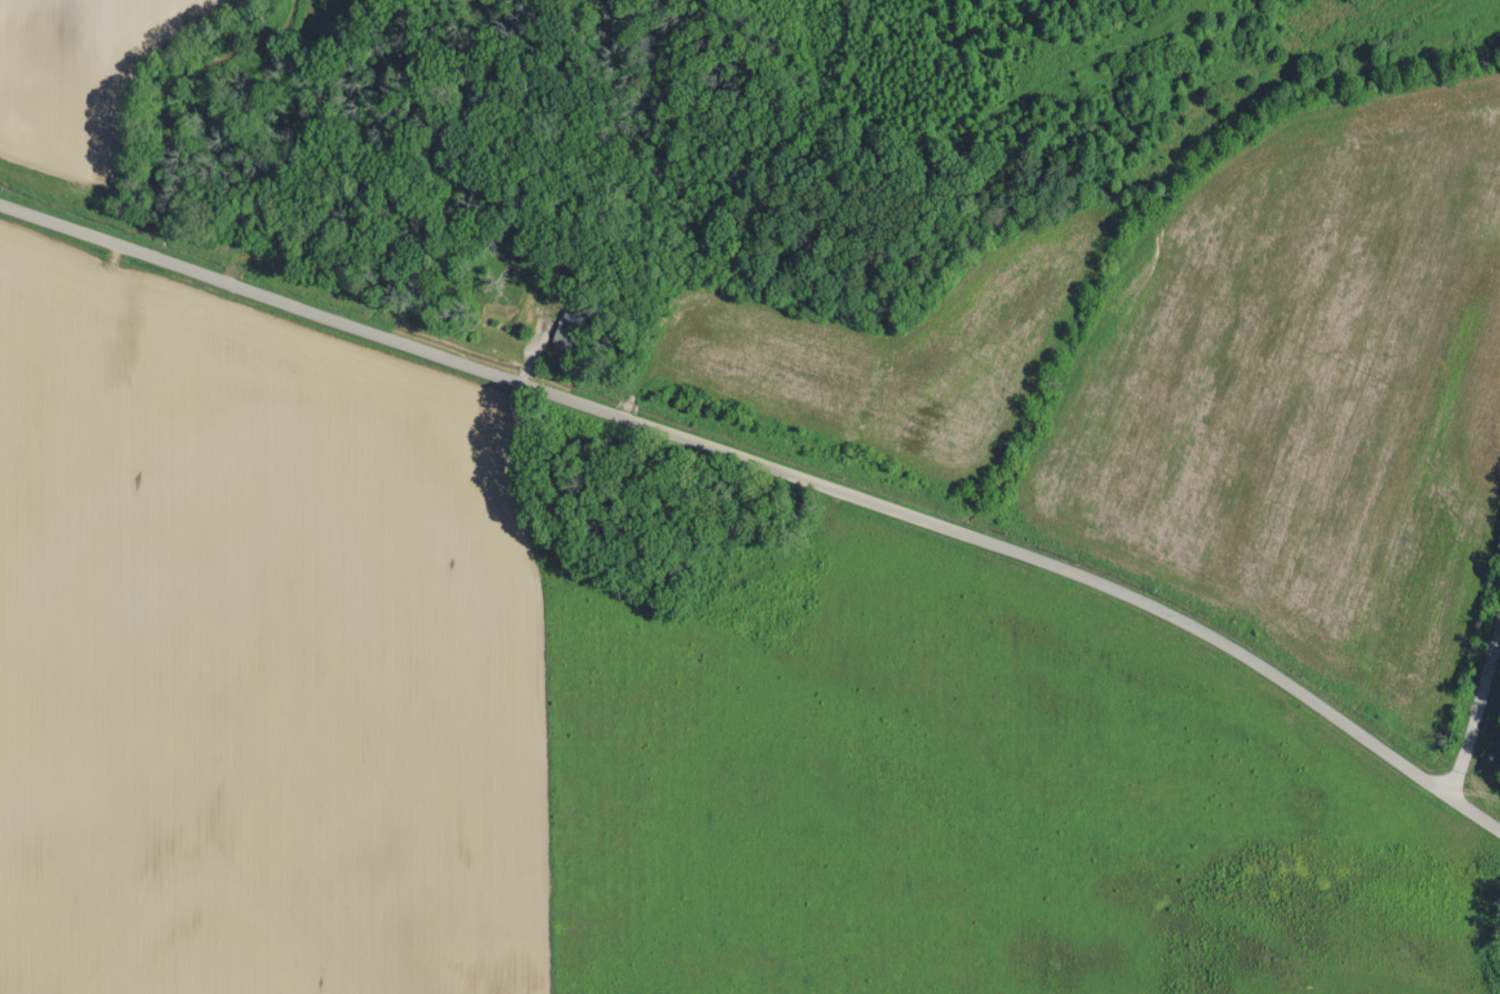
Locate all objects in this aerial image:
road: (773, 467)
road: (1475, 704)

